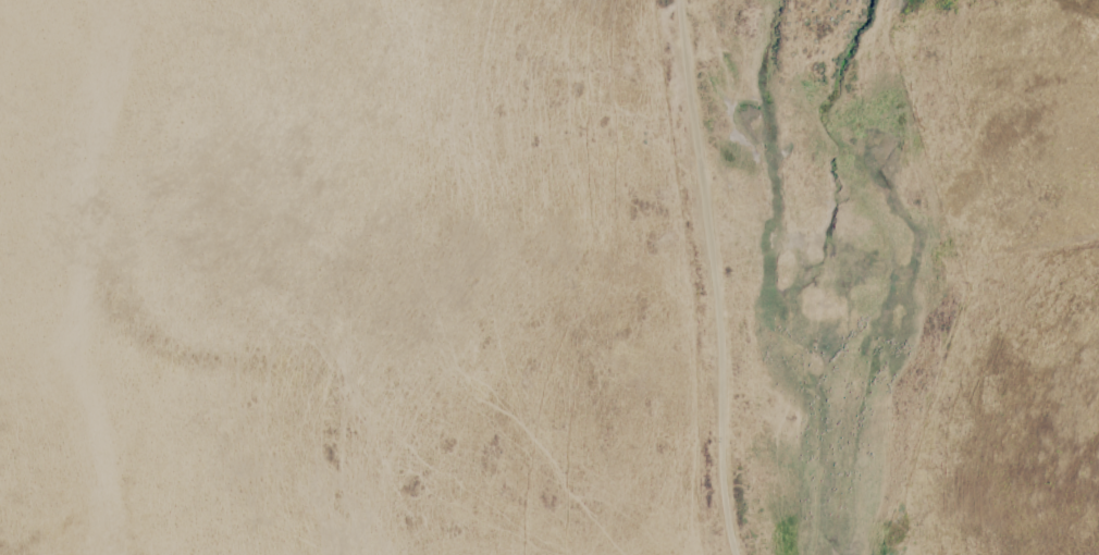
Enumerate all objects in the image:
road: (713, 276)

